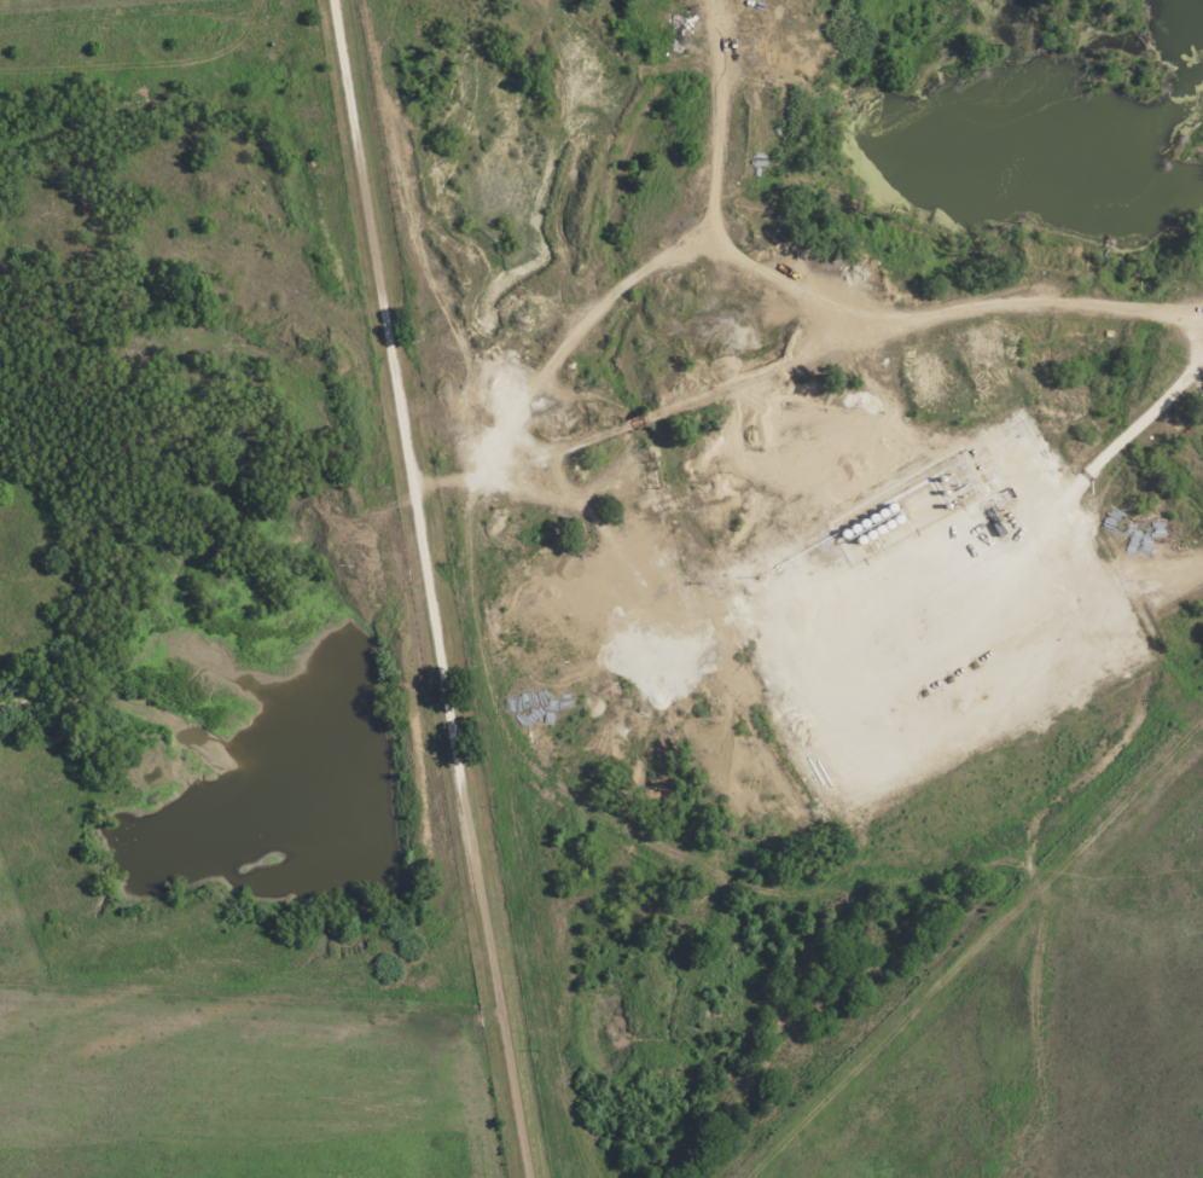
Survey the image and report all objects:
road: (441, 587)

